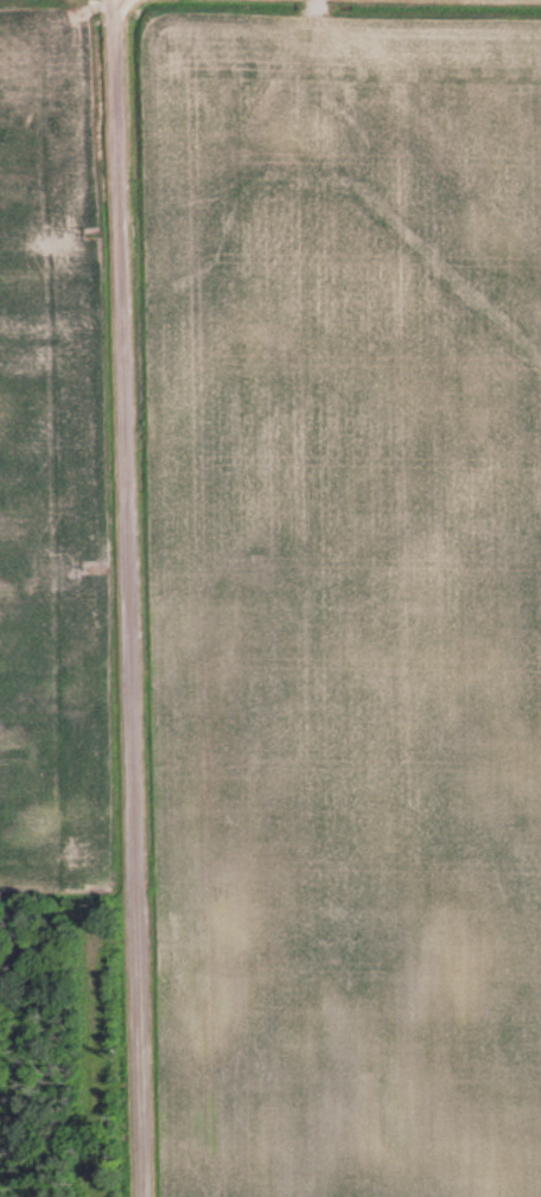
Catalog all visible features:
road: (125, 598)

